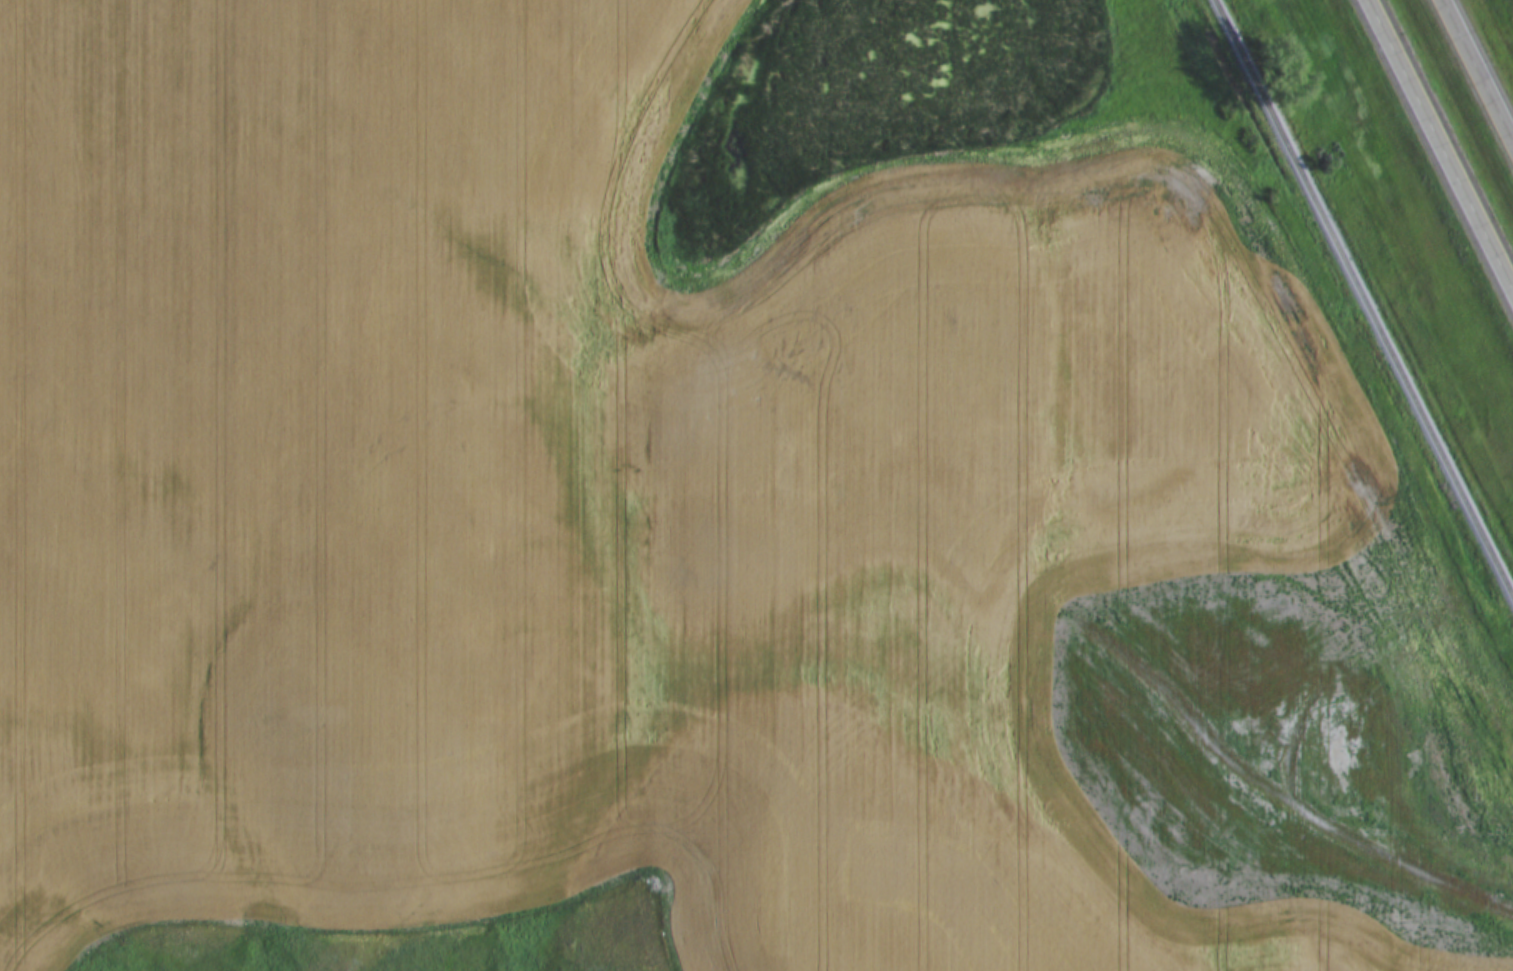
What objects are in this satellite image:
road: (1478, 68)
road: (1440, 145)
railway: (1357, 317)

